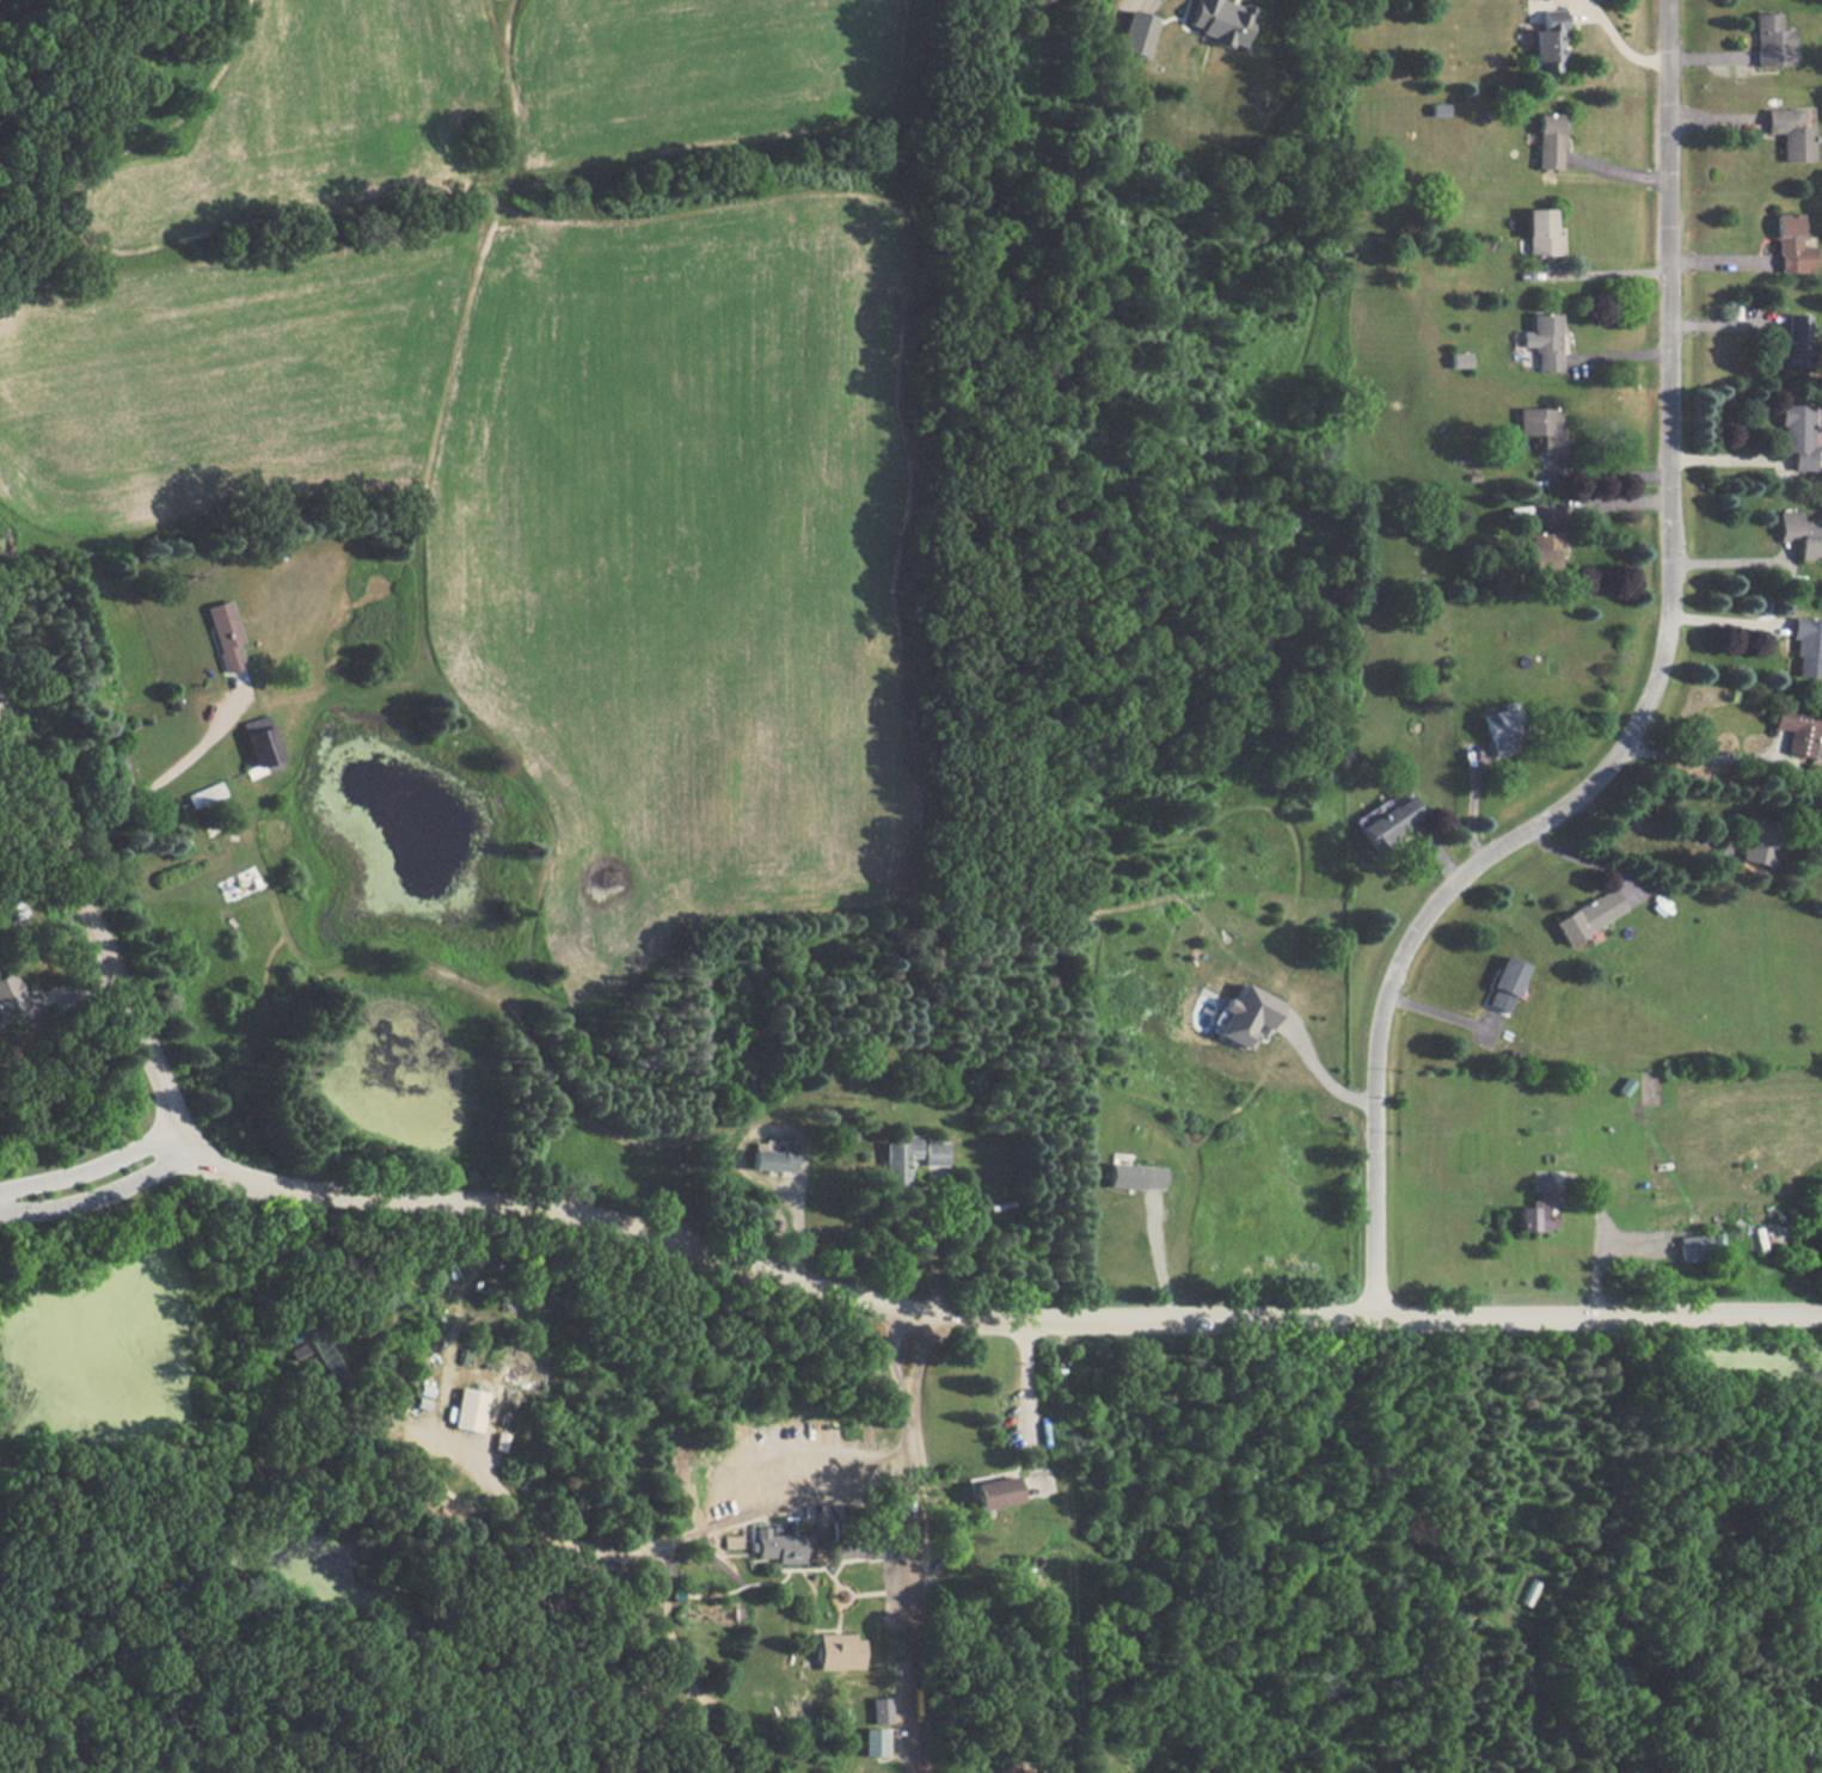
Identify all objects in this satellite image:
building: (1221, 22)
building: (1136, 32)
road: (1615, 39)
building: (1771, 41)
building: (1546, 42)
building: (1438, 109)
building: (1790, 131)
building: (1548, 140)
building: (1541, 233)
building: (1791, 245)
road: (1609, 274)
building: (1544, 341)
building: (1796, 341)
building: (1460, 361)
building: (1541, 428)
building: (1798, 436)
road: (1729, 459)
road: (1600, 478)
road: (1608, 503)
building: (1800, 533)
building: (1542, 551)
road: (1732, 562)
road: (1725, 621)
building: (226, 634)
building: (1808, 646)
road: (1640, 712)
building: (1503, 729)
building: (1798, 730)
building: (262, 743)
road: (1705, 756)
building: (117, 768)
road: (158, 785)
building: (205, 795)
road: (20, 817)
building: (1387, 820)
road: (1656, 828)
building: (1761, 841)
road: (20, 858)
road: (1587, 863)
building: (1588, 915)
building: (1503, 984)
building: (14, 1000)
building: (1246, 1014)
road: (1318, 1073)
building: (933, 1153)
building: (774, 1158)
building: (898, 1160)
road: (92, 1162)
building: (1134, 1176)
road: (100, 1194)
building: (1538, 1207)
building: (1692, 1247)
road: (1595, 1251)
road: (1154, 1256)
road: (761, 1266)
building: (302, 1351)
building: (326, 1352)
road: (896, 1355)
building: (465, 1356)
road: (919, 1358)
building: (319, 1374)
building: (430, 1382)
building: (331, 1399)
building: (468, 1410)
road: (1030, 1410)
building: (505, 1419)
building: (502, 1442)
building: (994, 1492)
building: (732, 1540)
building: (857, 1541)
road: (654, 1546)
building: (780, 1546)
parking lot: (898, 1572)
road: (913, 1588)
building: (1526, 1591)
building: (677, 1596)
road: (668, 1624)
building: (611, 1645)
building: (838, 1651)
building: (881, 1708)
building: (634, 1716)
parking lot: (906, 1732)
building: (873, 1742)
building: (1016, 1771)

